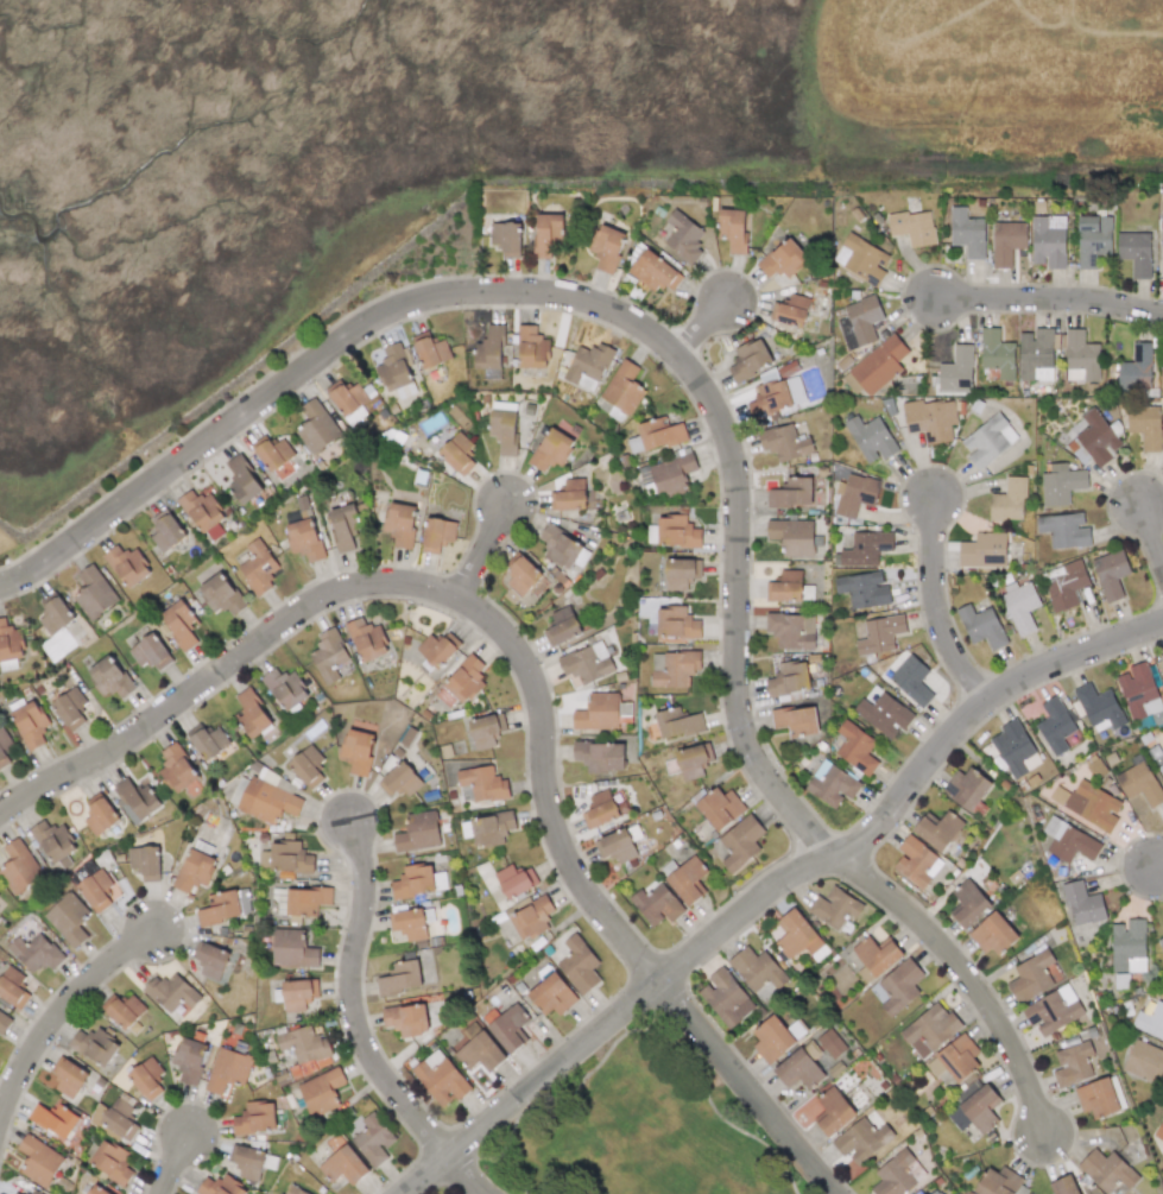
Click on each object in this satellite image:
building: (914, 227)
building: (734, 229)
building: (968, 233)
building: (548, 234)
building: (684, 238)
building: (507, 239)
building: (1093, 240)
building: (1049, 241)
building: (1007, 242)
building: (607, 247)
building: (1136, 253)
building: (1162, 258)
building: (783, 259)
building: (865, 260)
building: (655, 272)
road: (577, 296)
road: (1050, 301)
building: (791, 311)
building: (861, 322)
road: (704, 326)
building: (489, 348)
building: (531, 348)
building: (430, 349)
building: (997, 353)
building: (1036, 355)
building: (1081, 358)
building: (748, 359)
building: (879, 364)
building: (587, 366)
building: (1136, 368)
building: (396, 369)
building: (956, 369)
building: (1161, 375)
building: (621, 391)
building: (775, 393)
building: (347, 400)
building: (931, 418)
building: (1145, 425)
building: (316, 427)
building: (504, 431)
building: (655, 435)
building: (871, 438)
building: (988, 440)
building: (1094, 440)
building: (784, 443)
building: (443, 448)
building: (551, 449)
building: (272, 453)
building: (672, 473)
building: (242, 480)
building: (1061, 484)
building: (791, 493)
building: (569, 495)
building: (853, 495)
building: (1009, 500)
building: (203, 513)
building: (400, 523)
building: (343, 525)
building: (1064, 530)
building: (166, 531)
building: (677, 532)
building: (437, 533)
building: (791, 536)
building: (304, 539)
road: (1150, 543)
building: (562, 548)
building: (864, 549)
road: (488, 551)
building: (982, 551)
building: (127, 566)
building: (258, 567)
building: (681, 573)
building: (522, 574)
building: (1110, 574)
building: (1066, 585)
building: (785, 587)
building: (864, 589)
building: (94, 594)
building: (220, 594)
road: (935, 605)
building: (1019, 605)
building: (53, 614)
building: (676, 623)
building: (179, 624)
building: (561, 626)
building: (981, 626)
building: (791, 631)
building: (880, 633)
building: (366, 638)
building: (10, 642)
building: (436, 650)
building: (150, 652)
building: (328, 655)
building: (1162, 657)
building: (587, 663)
road: (526, 664)
building: (672, 668)
building: (109, 677)
building: (788, 678)
building: (464, 680)
building: (911, 681)
building: (285, 689)
building: (1138, 690)
building: (69, 708)
building: (1099, 708)
building: (252, 713)
building: (602, 713)
building: (884, 714)
building: (1157, 718)
building: (796, 720)
building: (677, 722)
building: (30, 725)
building: (1055, 726)
building: (486, 731)
building: (207, 740)
building: (4, 746)
building: (855, 747)
building: (1015, 750)
building: (358, 751)
building: (600, 756)
building: (693, 760)
building: (306, 765)
building: (177, 767)
building: (1161, 769)
building: (400, 779)
building: (483, 783)
building: (1139, 783)
building: (832, 784)
building: (966, 788)
building: (135, 798)
building: (1093, 806)
building: (720, 808)
building: (600, 809)
building: (100, 814)
building: (487, 828)
building: (938, 829)
building: (418, 833)
building: (53, 841)
building: (1069, 841)
building: (740, 842)
building: (617, 846)
building: (146, 861)
building: (916, 861)
road: (1158, 861)
building: (19, 866)
building: (195, 871)
building: (687, 879)
building: (413, 880)
building: (512, 880)
road: (773, 887)
building: (95, 889)
building: (306, 901)
building: (1082, 903)
building: (656, 904)
building: (968, 904)
building: (225, 906)
building: (834, 908)
building: (68, 918)
building: (531, 918)
building: (409, 923)
building: (993, 934)
building: (796, 935)
building: (1162, 942)
building: (1127, 946)
building: (292, 948)
building: (36, 953)
building: (877, 954)
building: (210, 959)
building: (579, 965)
building: (757, 968)
building: (1031, 975)
building: (400, 977)
road: (966, 977)
building: (897, 986)
building: (12, 987)
building: (170, 992)
building: (298, 994)
building: (551, 994)
building: (726, 997)
road: (355, 1003)
building: (122, 1010)
building: (1053, 1010)
road: (58, 1011)
building: (406, 1018)
building: (1151, 1021)
building: (4, 1023)
building: (508, 1026)
building: (929, 1030)
building: (772, 1040)
building: (830, 1043)
building: (94, 1045)
building: (306, 1048)
building: (480, 1053)
building: (954, 1059)
building: (189, 1060)
building: (1144, 1061)
building: (1073, 1065)
building: (799, 1067)
building: (68, 1076)
building: (146, 1078)
building: (441, 1079)
building: (321, 1091)
building: (1096, 1098)
building: (978, 1105)
building: (833, 1112)
building: (255, 1118)
building: (53, 1119)
building: (115, 1119)
park: (644, 1129)
building: (1159, 1132)
building: (373, 1139)
building: (861, 1141)
building: (1162, 1155)
building: (39, 1161)
building: (112, 1161)
road: (175, 1164)
building: (343, 1165)
building: (1106, 1170)
road: (466, 1174)
building: (897, 1174)
building: (1001, 1183)
building: (220, 1186)
building: (1063, 1186)
building: (96, 1190)
building: (295, 1190)
building: (15, 1193)
building: (34, 1193)

